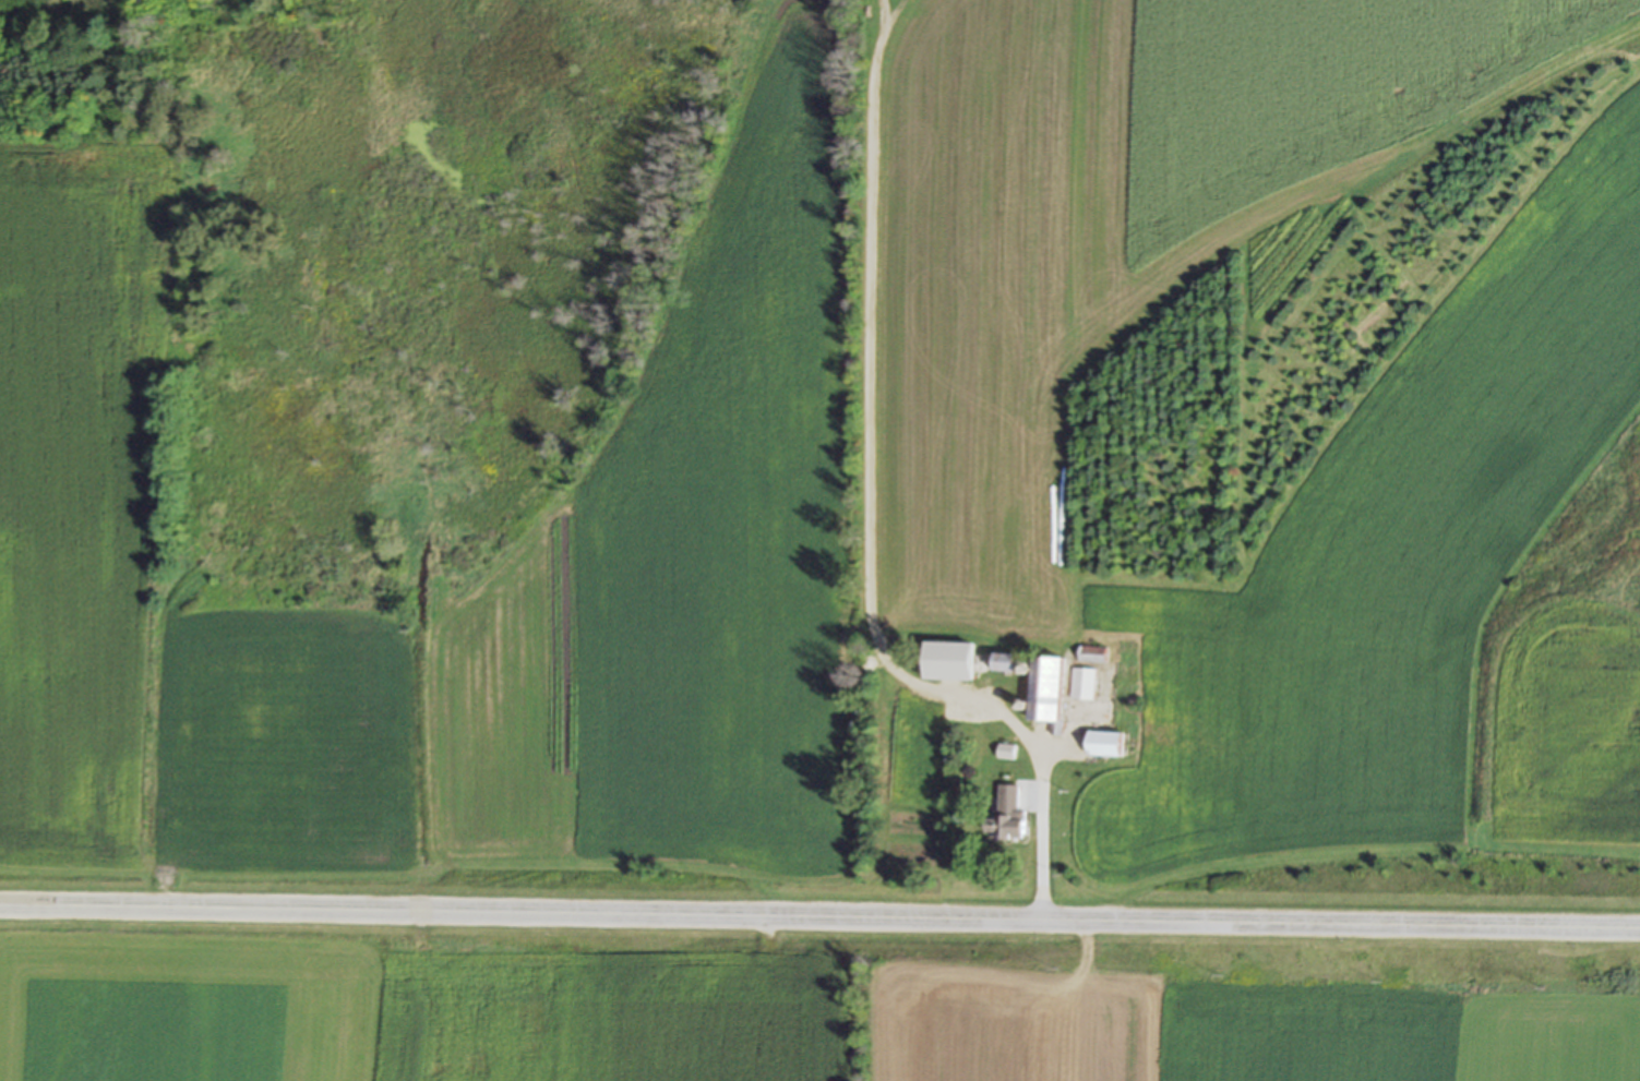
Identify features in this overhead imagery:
road: (865, 509)
building: (1093, 656)
building: (949, 662)
building: (1006, 663)
building: (1085, 684)
building: (1046, 688)
building: (1106, 745)
building: (1007, 816)
road: (819, 916)

